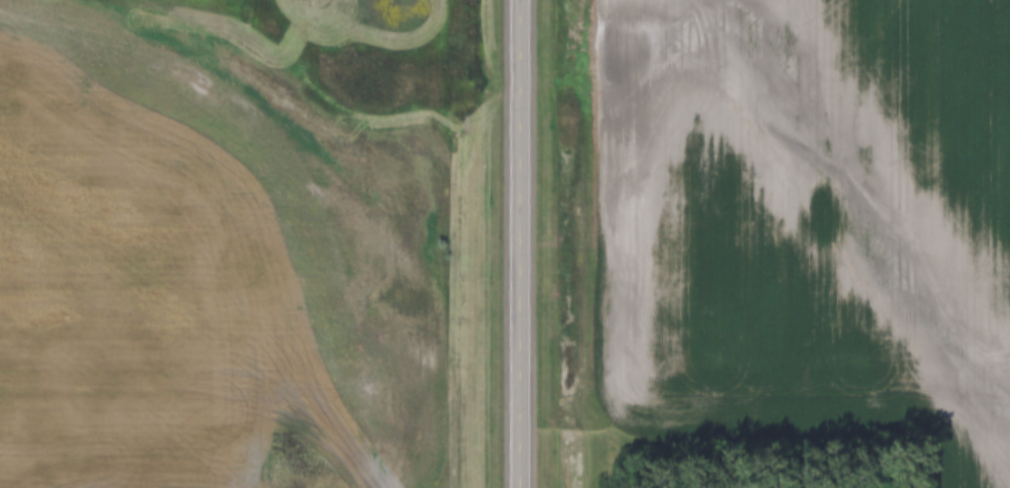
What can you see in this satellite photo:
road: (517, 244)

